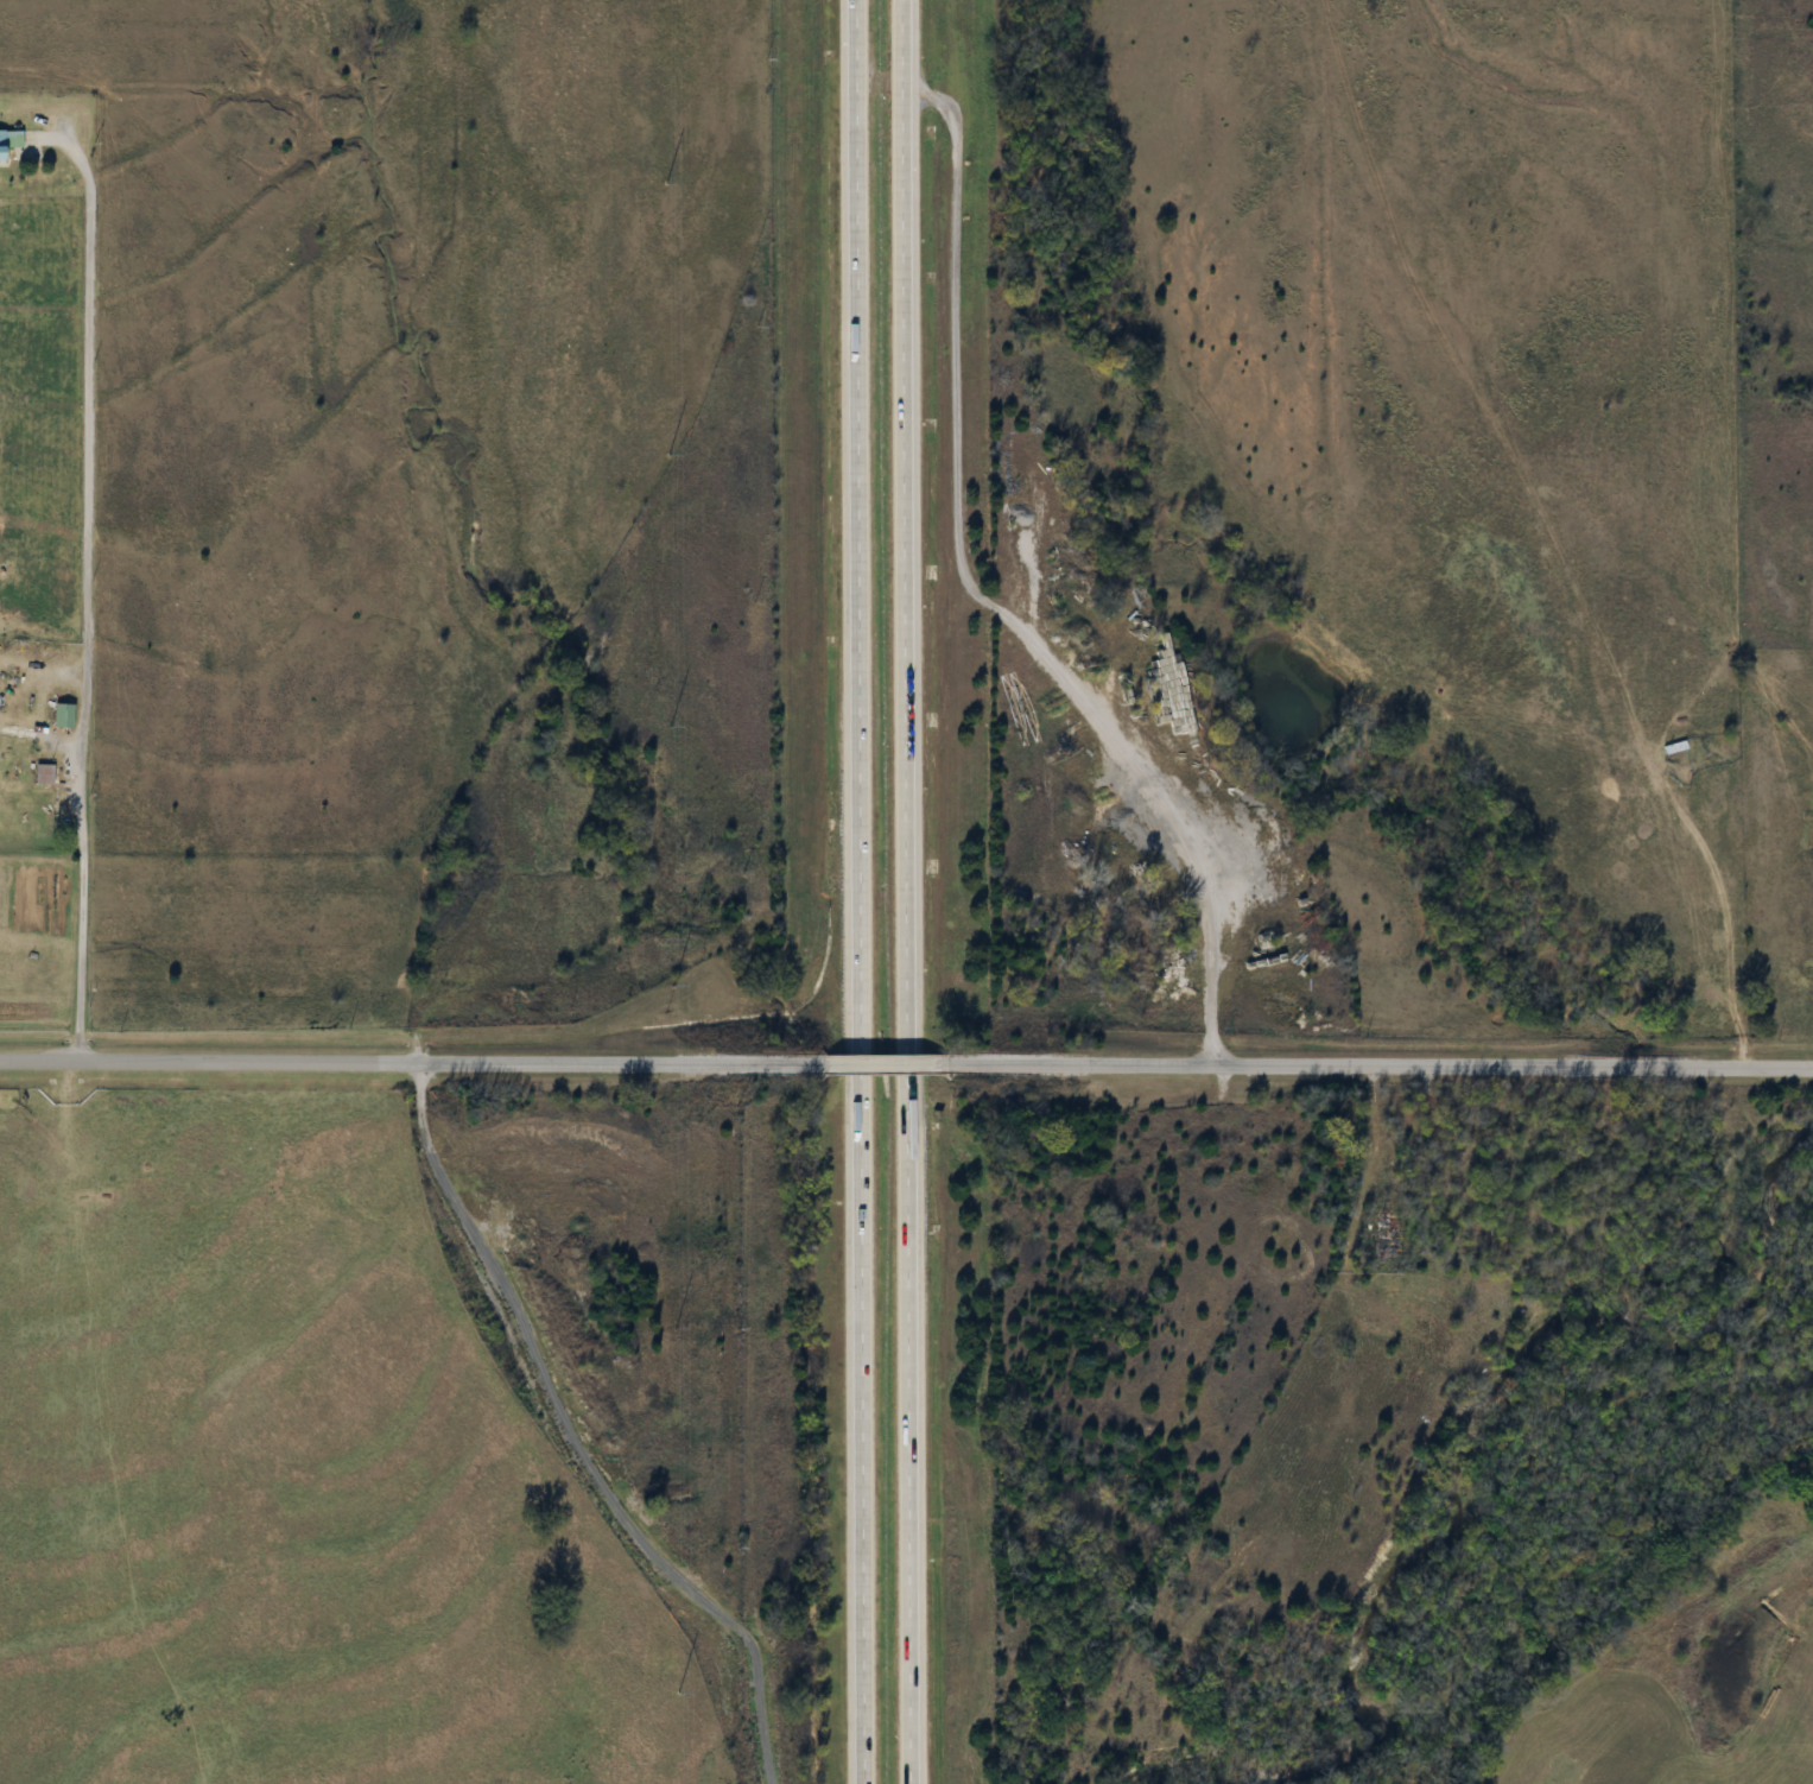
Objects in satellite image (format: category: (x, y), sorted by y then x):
building: (13, 141)
road: (849, 529)
road: (893, 529)
road: (93, 584)
building: (64, 715)
building: (45, 774)
building: (25, 797)
road: (400, 1065)
road: (852, 1068)
road: (867, 1068)
road: (898, 1068)
road: (1373, 1068)
building: (1389, 1234)
road: (852, 1431)
road: (898, 1431)

